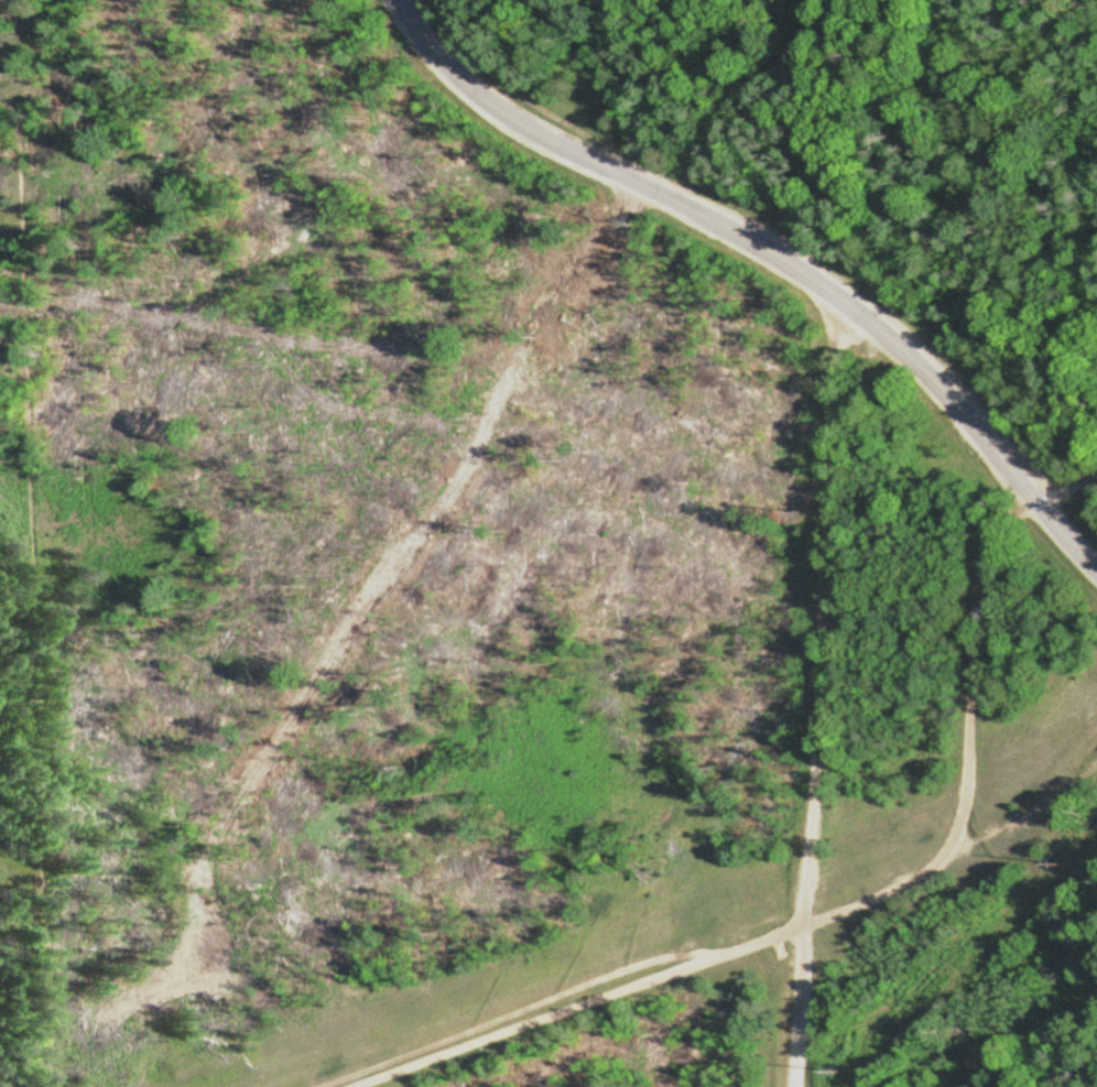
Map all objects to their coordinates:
road: (731, 232)
road: (1068, 489)
road: (1068, 528)
road: (819, 611)
road: (973, 648)
road: (1049, 941)
road: (670, 975)
road: (799, 1008)

